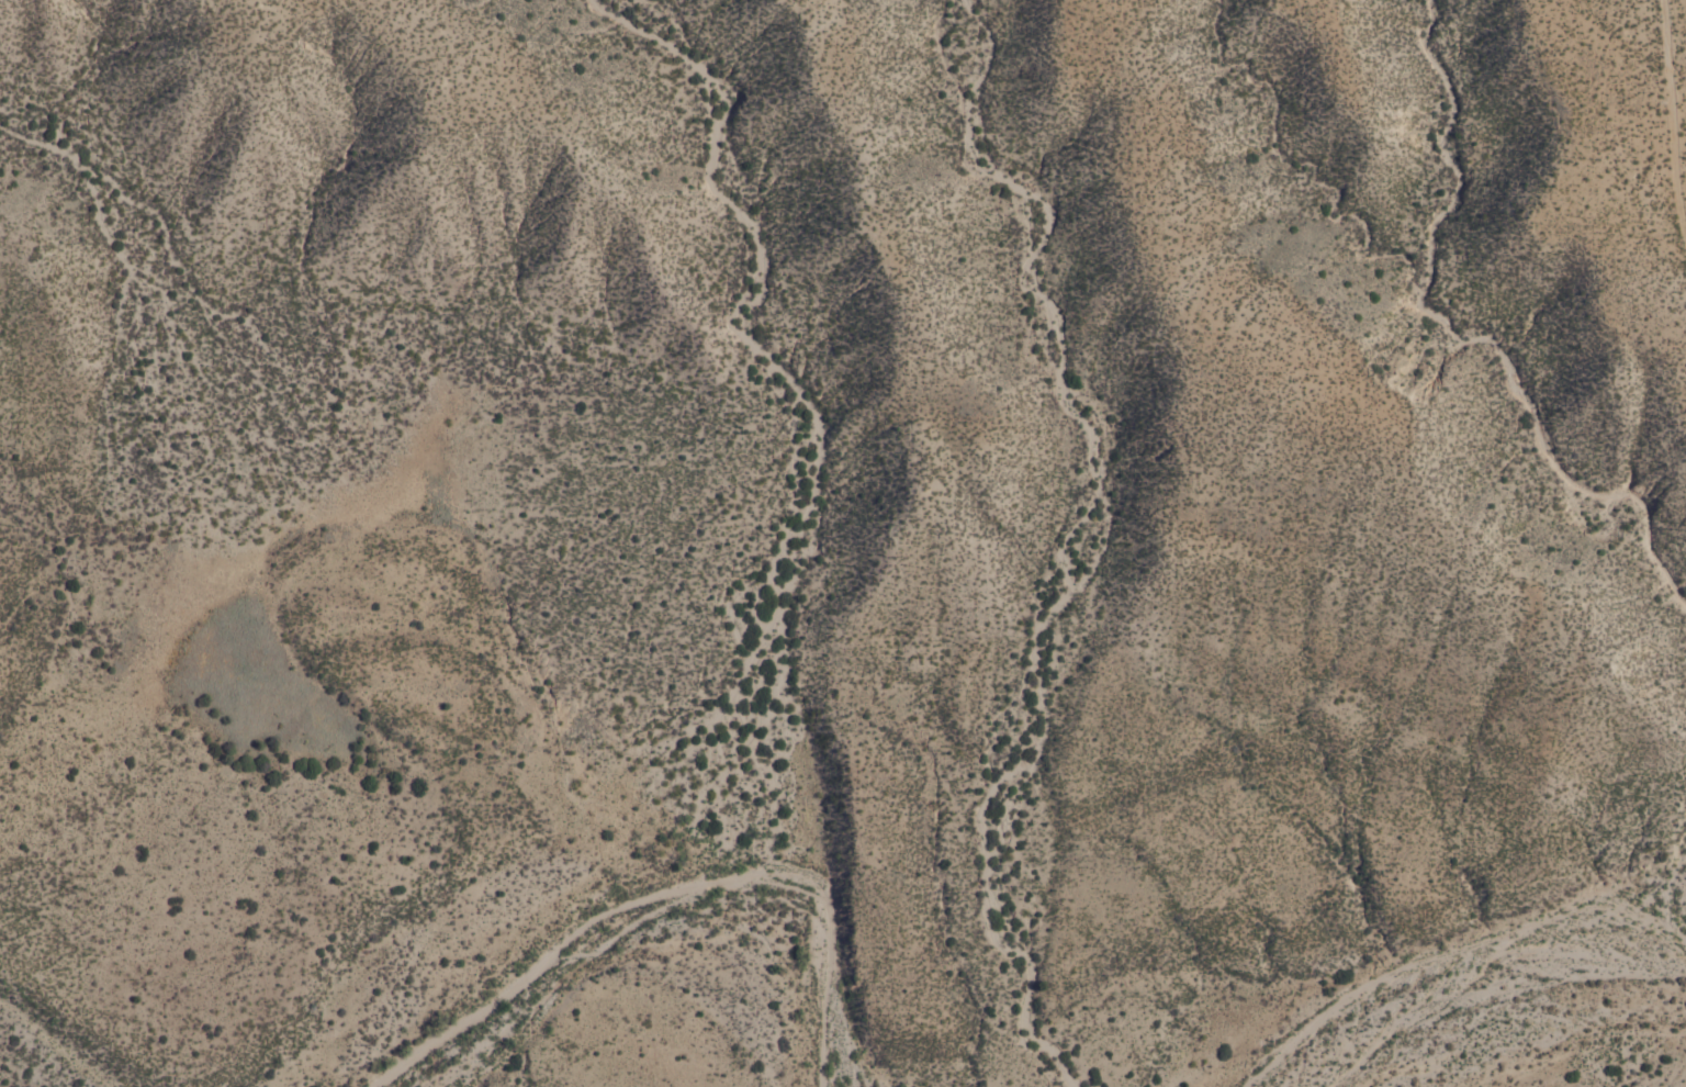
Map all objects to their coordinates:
road: (1666, 138)

